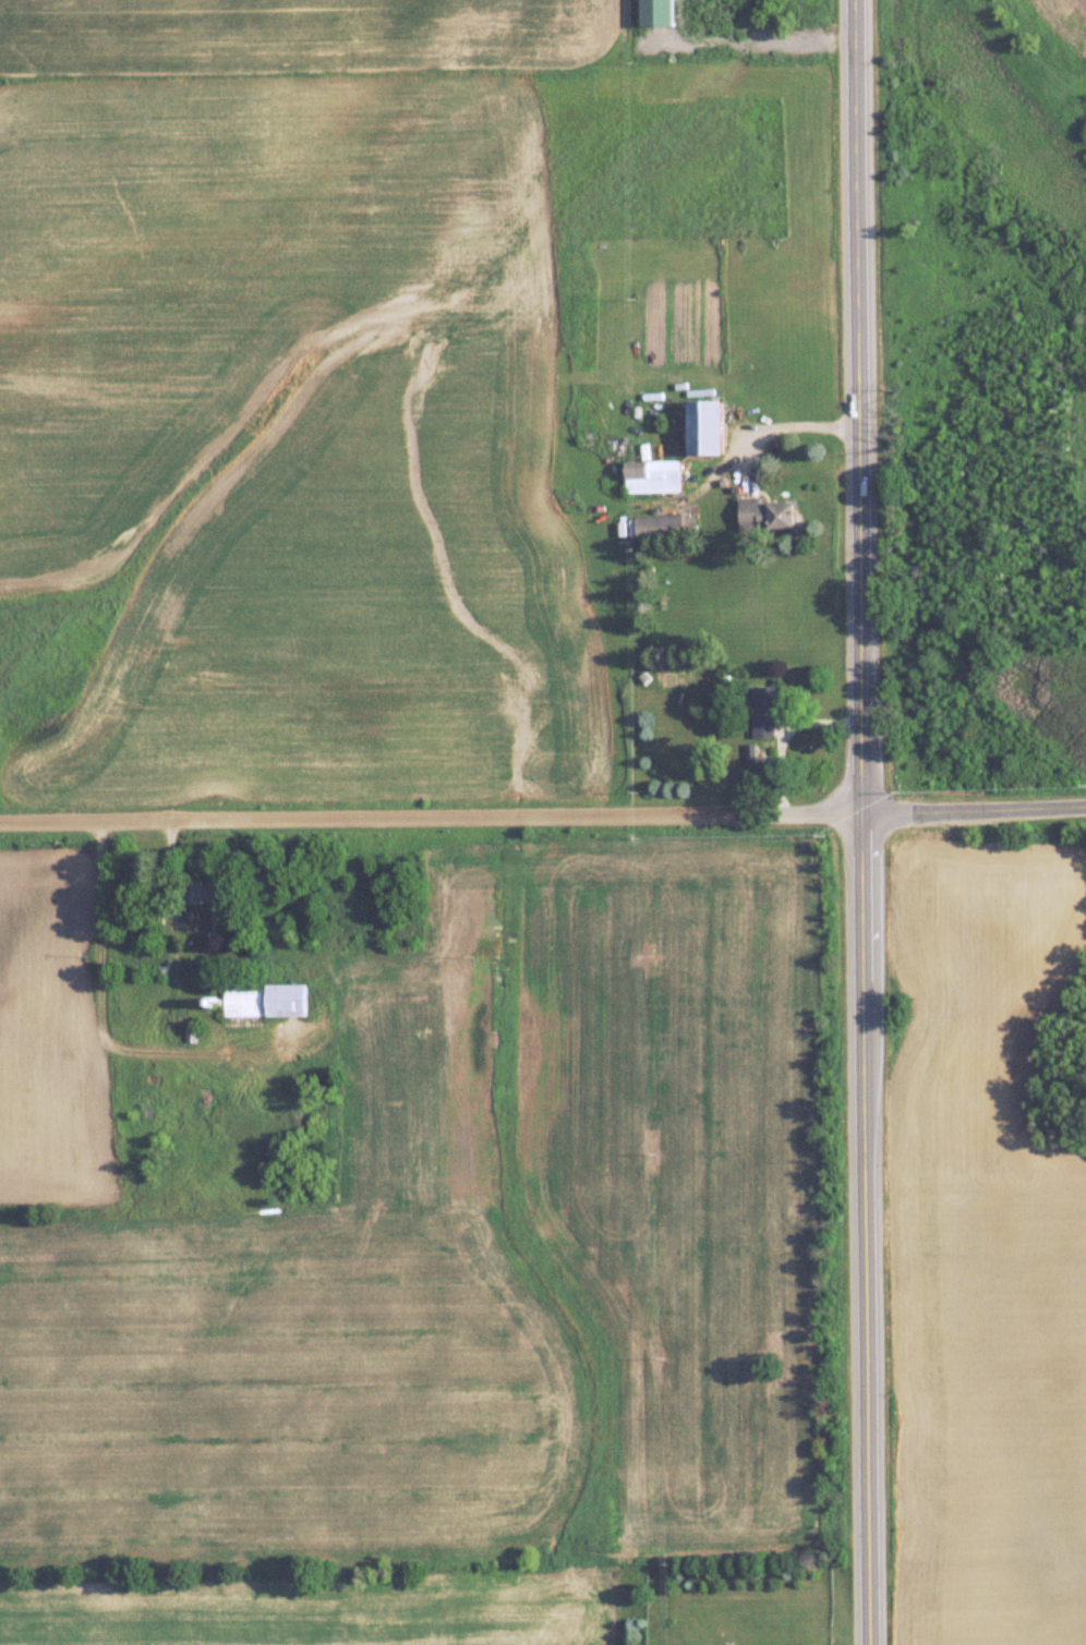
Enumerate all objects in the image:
road: (747, 43)
road: (860, 408)
building: (707, 427)
road: (785, 432)
building: (652, 475)
building: (767, 516)
building: (663, 527)
building: (763, 711)
road: (785, 734)
road: (976, 811)
road: (433, 820)
building: (214, 898)
building: (288, 997)
building: (244, 1000)
road: (871, 1230)

